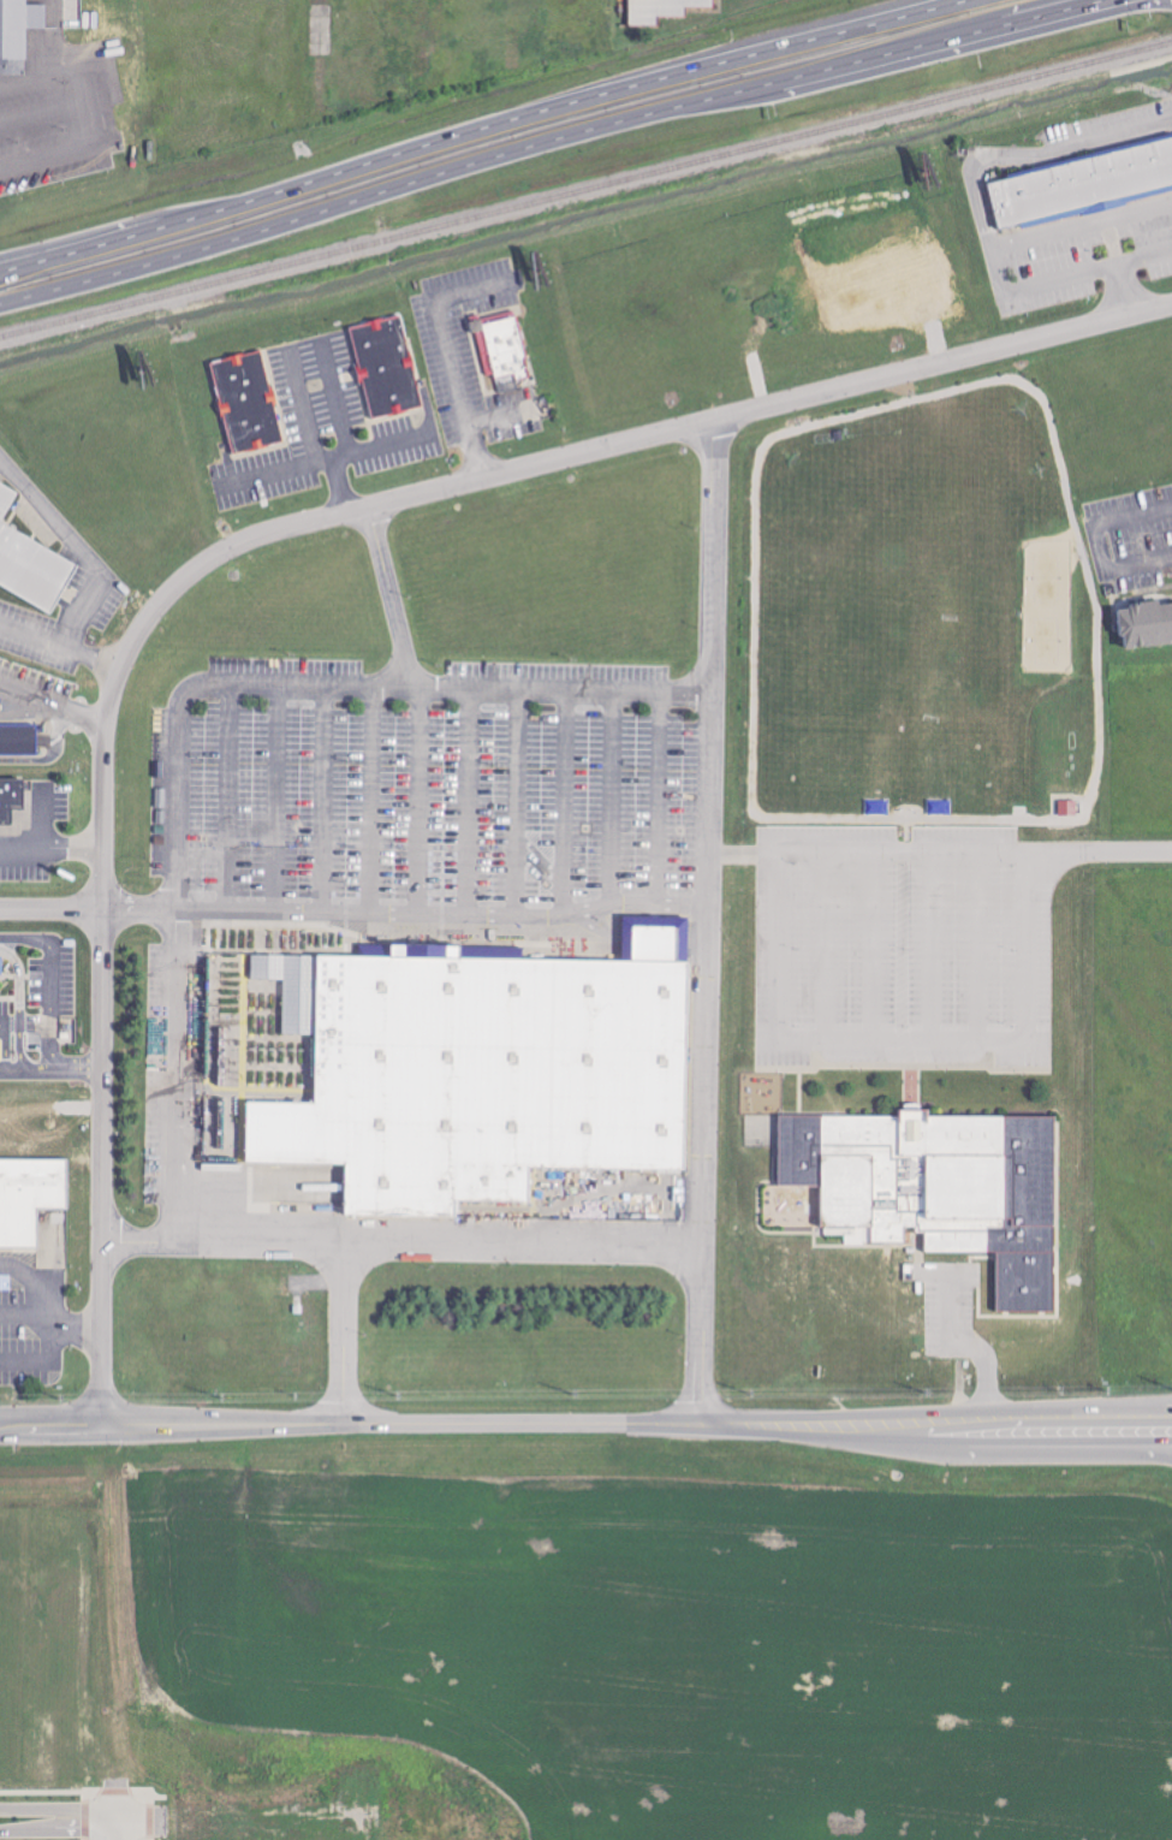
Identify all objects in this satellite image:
building: (661, 8)
building: (18, 26)
road: (478, 127)
road: (546, 140)
road: (1034, 148)
building: (1082, 185)
railway: (585, 190)
road: (1081, 218)
road: (1142, 254)
road: (1060, 278)
building: (502, 348)
road: (450, 351)
building: (387, 367)
building: (248, 402)
road: (339, 402)
road: (502, 417)
road: (656, 432)
road: (310, 435)
road: (327, 461)
road: (1091, 539)
building: (30, 563)
road: (385, 595)
building: (1147, 622)
road: (29, 698)
road: (180, 702)
road: (29, 710)
road: (81, 714)
building: (18, 741)
road: (612, 795)
road: (660, 796)
road: (231, 799)
road: (279, 800)
road: (325, 800)
road: (375, 801)
road: (422, 802)
road: (468, 803)
road: (519, 805)
road: (566, 805)
building: (16, 807)
building: (1069, 808)
road: (938, 850)
road: (49, 908)
road: (405, 919)
road: (703, 920)
building: (1, 966)
road: (99, 1003)
road: (903, 1040)
building: (483, 1076)
building: (939, 1189)
building: (29, 1198)
road: (436, 1234)
road: (230, 1242)
road: (36, 1286)
road: (79, 1325)
road: (960, 1346)
road: (43, 1360)
road: (585, 1423)
road: (48, 1792)
road: (118, 1792)
road: (149, 1792)
road: (88, 1797)
road: (59, 1809)
road: (87, 1820)
road: (151, 1821)
road: (59, 1828)
road: (118, 1829)
road: (88, 1839)

